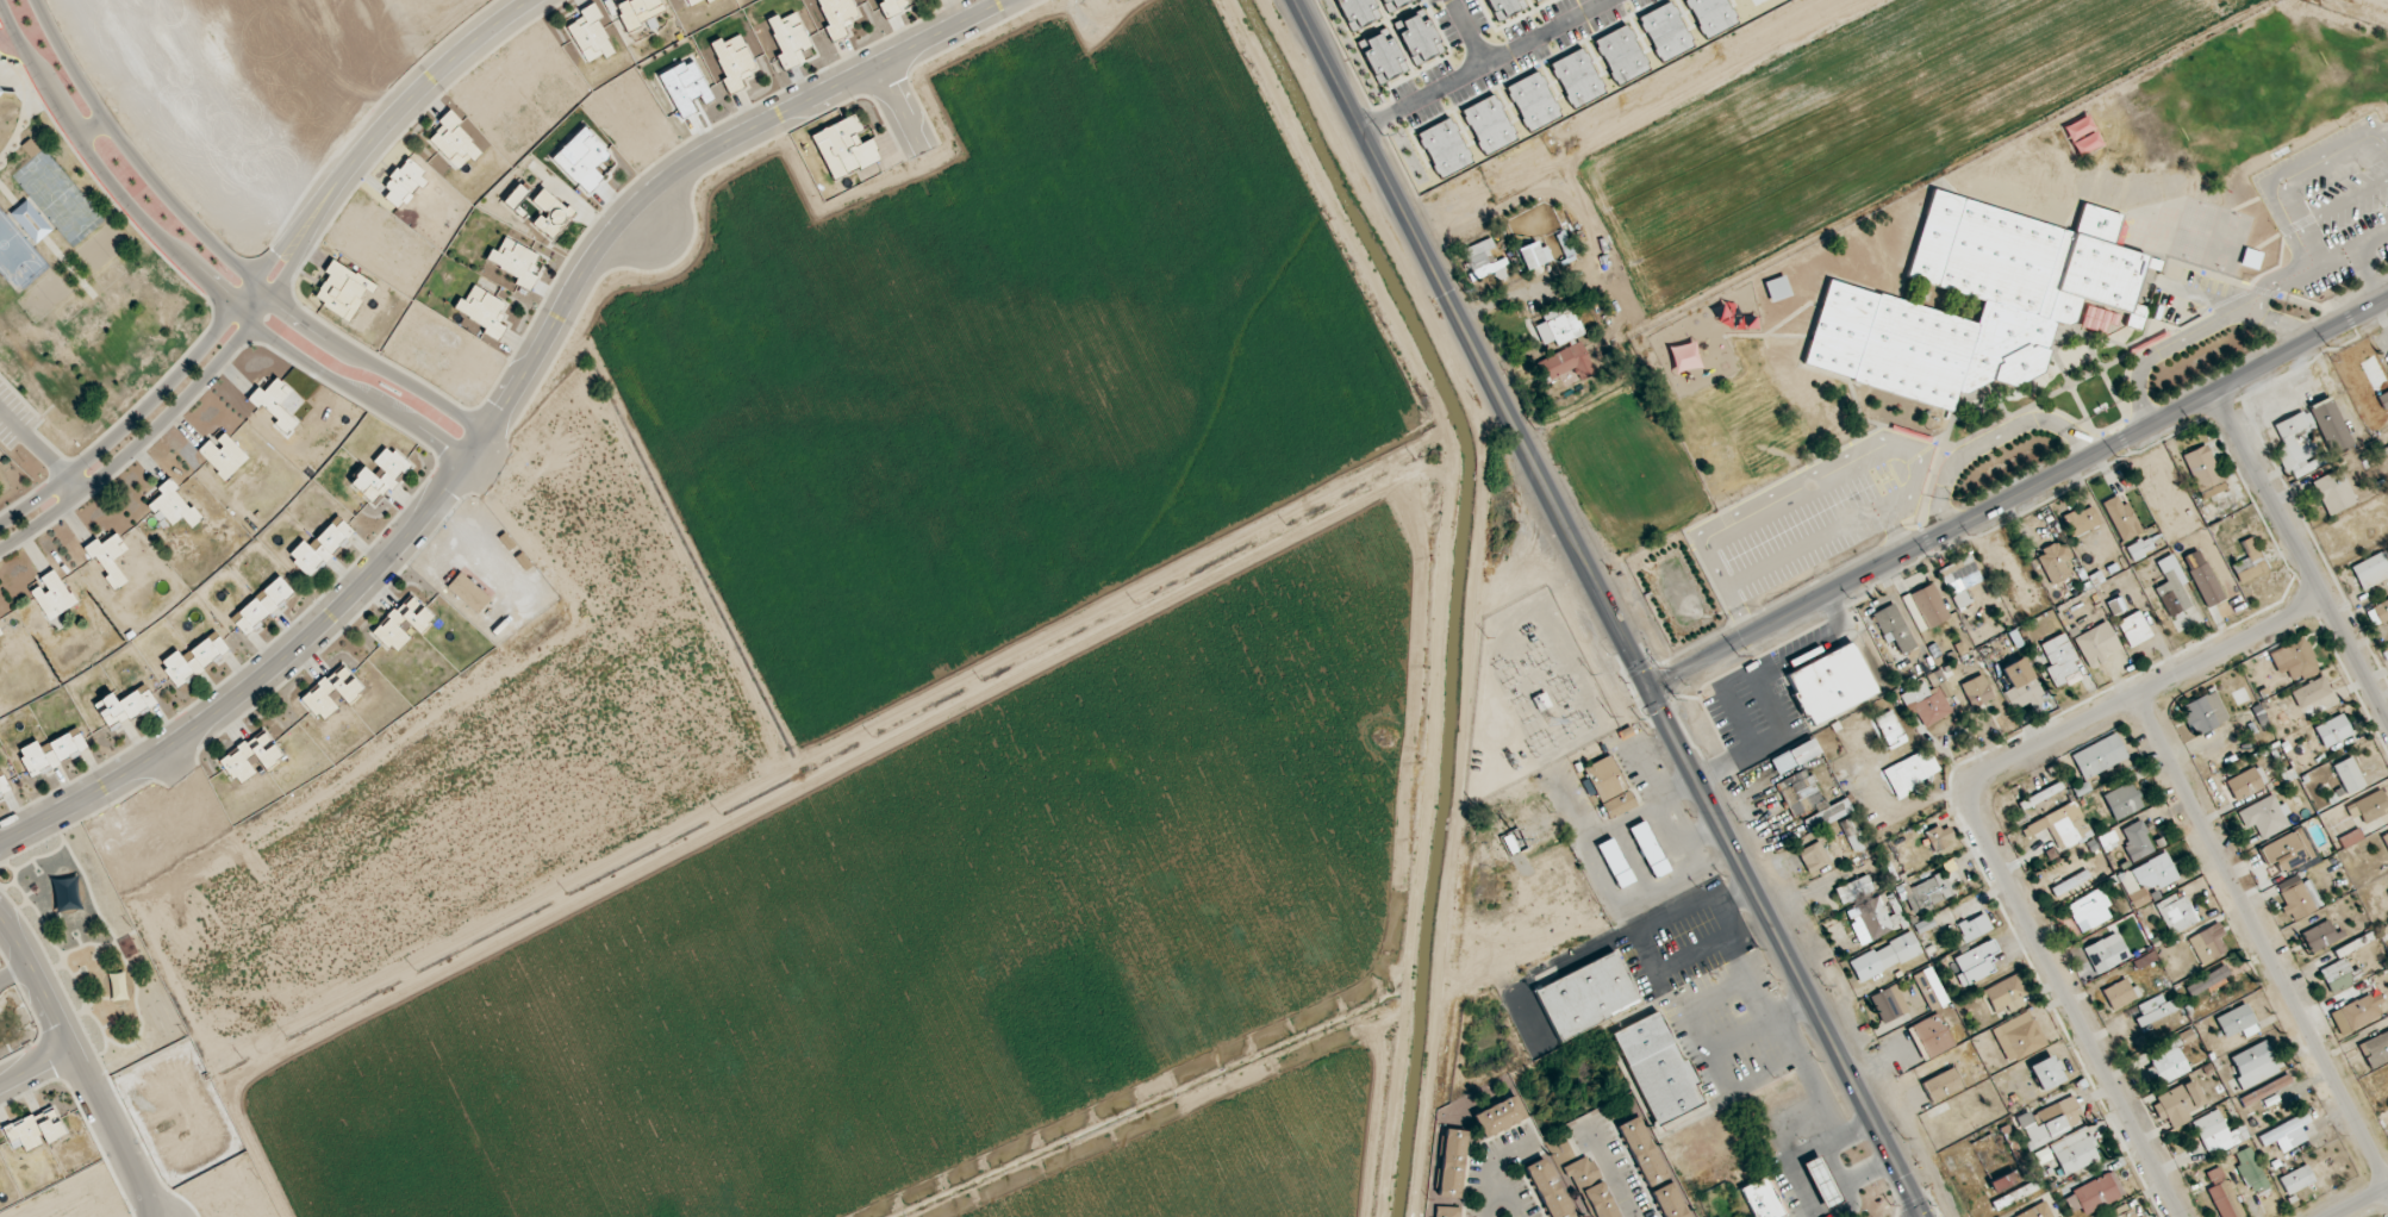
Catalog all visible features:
building: (709, 0)
building: (1536, 0)
building: (693, 1)
building: (1393, 4)
building: (894, 6)
building: (1505, 7)
building: (638, 11)
building: (1358, 12)
building: (836, 14)
building: (1711, 15)
building: (1665, 31)
road: (1466, 32)
building: (590, 35)
building: (1419, 38)
building: (788, 39)
building: (1621, 54)
building: (1383, 57)
building: (732, 61)
road: (1484, 64)
building: (1577, 77)
building: (685, 87)
building: (0, 92)
building: (1533, 100)
road: (404, 101)
road: (892, 110)
road: (87, 124)
building: (1489, 124)
building: (453, 142)
building: (844, 148)
building: (1445, 148)
building: (582, 158)
building: (404, 185)
building: (516, 198)
building: (550, 213)
building: (31, 221)
road: (224, 254)
building: (1535, 255)
building: (516, 262)
building: (1484, 262)
road: (194, 273)
building: (343, 289)
building: (2057, 299)
building: (482, 311)
building: (1559, 327)
building: (1566, 363)
road: (166, 385)
building: (2383, 400)
building: (275, 404)
road: (175, 407)
road: (498, 414)
building: (2331, 425)
road: (1994, 439)
building: (2299, 445)
building: (2387, 447)
road: (39, 454)
building: (223, 455)
building: (2202, 469)
building: (381, 475)
building: (2333, 491)
road: (2018, 495)
building: (173, 506)
building: (2122, 518)
building: (2083, 520)
building: (322, 547)
building: (2140, 548)
road: (2302, 555)
building: (108, 557)
building: (2055, 562)
building: (2250, 562)
building: (2371, 570)
building: (1959, 580)
building: (2206, 585)
building: (2172, 591)
building: (468, 592)
building: (52, 595)
building: (262, 606)
building: (1929, 606)
road: (1608, 608)
building: (2378, 613)
building: (403, 623)
building: (1894, 628)
building: (2134, 629)
building: (2097, 644)
building: (2059, 659)
building: (194, 660)
building: (2294, 660)
building: (1831, 684)
building: (2021, 685)
traffic signals: (1650, 689)
road: (2146, 689)
building: (1977, 691)
building: (320, 692)
building: (2311, 692)
building: (1928, 700)
building: (125, 706)
building: (2205, 713)
building: (1889, 726)
building: (2333, 730)
building: (52, 753)
building: (250, 756)
building: (1795, 756)
building: (2099, 756)
building: (1910, 772)
building: (2349, 775)
building: (2247, 782)
building: (1609, 787)
building: (1801, 792)
building: (2122, 801)
building: (2373, 807)
building: (1827, 816)
building: (2265, 817)
road: (1670, 818)
building: (2063, 825)
building: (1852, 835)
building: (1940, 837)
building: (2350, 838)
building: (2386, 840)
building: (2107, 841)
building: (2137, 841)
building: (1648, 849)
building: (2287, 850)
building: (1813, 857)
building: (2146, 879)
building: (2070, 882)
building: (1853, 890)
building: (1927, 892)
building: (2300, 899)
building: (2089, 910)
building: (2176, 913)
building: (1924, 925)
building: (1975, 926)
building: (2319, 935)
road: (2263, 940)
building: (2208, 943)
building: (130, 949)
building: (2106, 953)
building: (1884, 956)
building: (1975, 963)
building: (2338, 975)
building: (2208, 981)
road: (38, 984)
building: (118, 986)
building: (1929, 988)
building: (2119, 993)
building: (2006, 994)
building: (1586, 997)
building: (1889, 1003)
road: (2070, 1003)
building: (2155, 1011)
building: (2362, 1011)
road: (1764, 1018)
building: (2237, 1022)
building: (1933, 1035)
building: (2019, 1037)
road: (1784, 1046)
building: (2376, 1050)
building: (2170, 1059)
building: (2253, 1065)
road: (32, 1068)
building: (1658, 1068)
building: (2046, 1073)
building: (1941, 1085)
building: (2265, 1090)
building: (2178, 1103)
building: (1499, 1116)
building: (2051, 1121)
building: (50, 1125)
road: (1856, 1130)
building: (2283, 1132)
building: (24, 1134)
building: (2218, 1134)
road: (108, 1136)
building: (1641, 1152)
building: (2074, 1152)
building: (2041, 1155)
building: (1452, 1163)
building: (2251, 1171)
road: (1616, 1177)
building: (2296, 1180)
building: (1821, 1181)
building: (2003, 1181)
building: (1592, 1187)
building: (1547, 1188)
road: (1501, 1190)
building: (2095, 1193)
building: (2014, 1194)
building: (2222, 1194)
building: (1764, 1198)
building: (1669, 1202)
road: (2362, 1204)
building: (1447, 1211)
building: (2037, 1211)
building: (2124, 1211)

